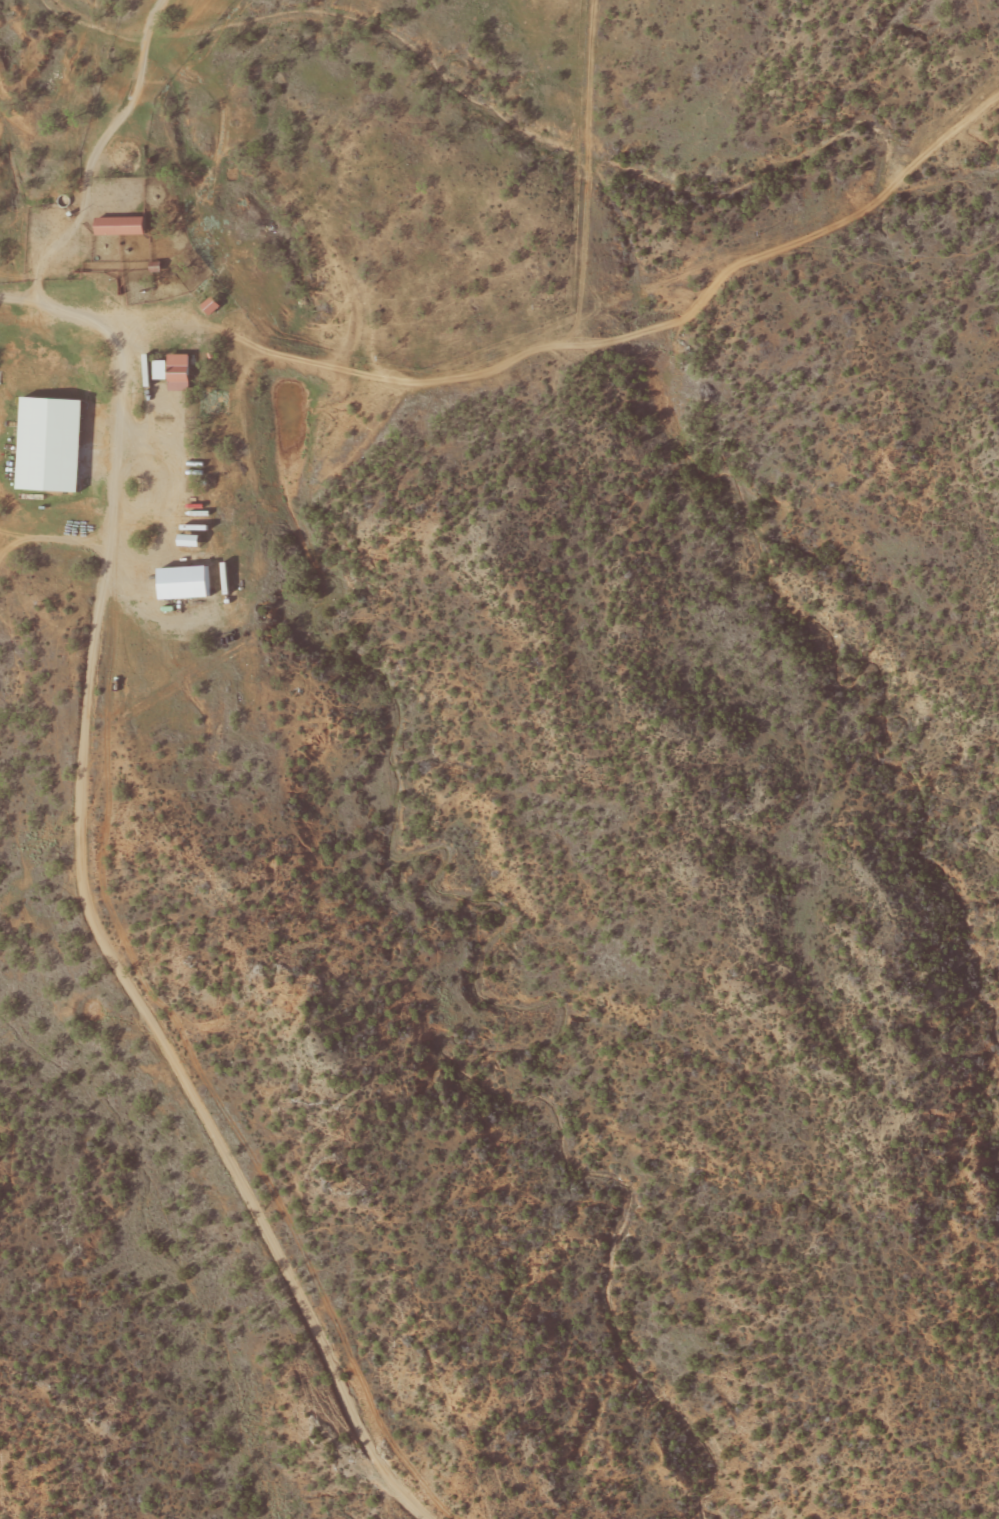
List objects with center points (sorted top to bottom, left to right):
building: (124, 225)
building: (213, 305)
building: (162, 369)
building: (181, 371)
building: (53, 443)
building: (193, 540)
building: (189, 581)
road: (56, 809)

